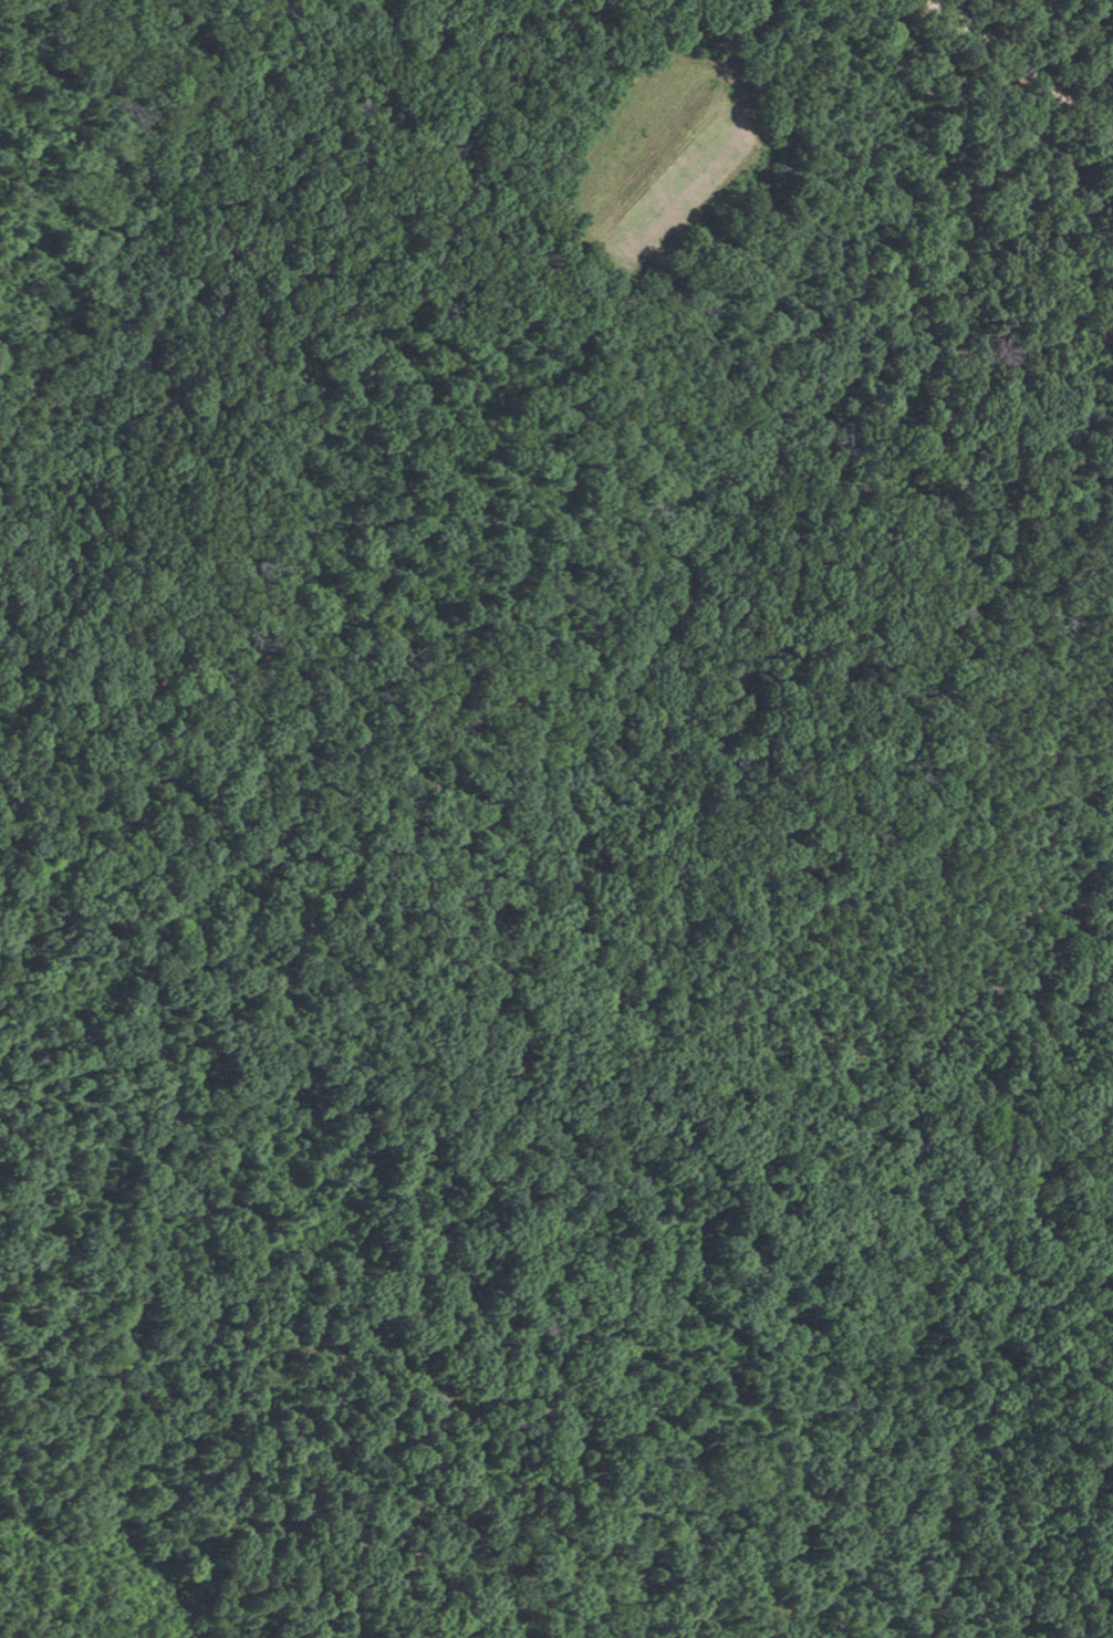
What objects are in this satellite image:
road: (1021, 65)

